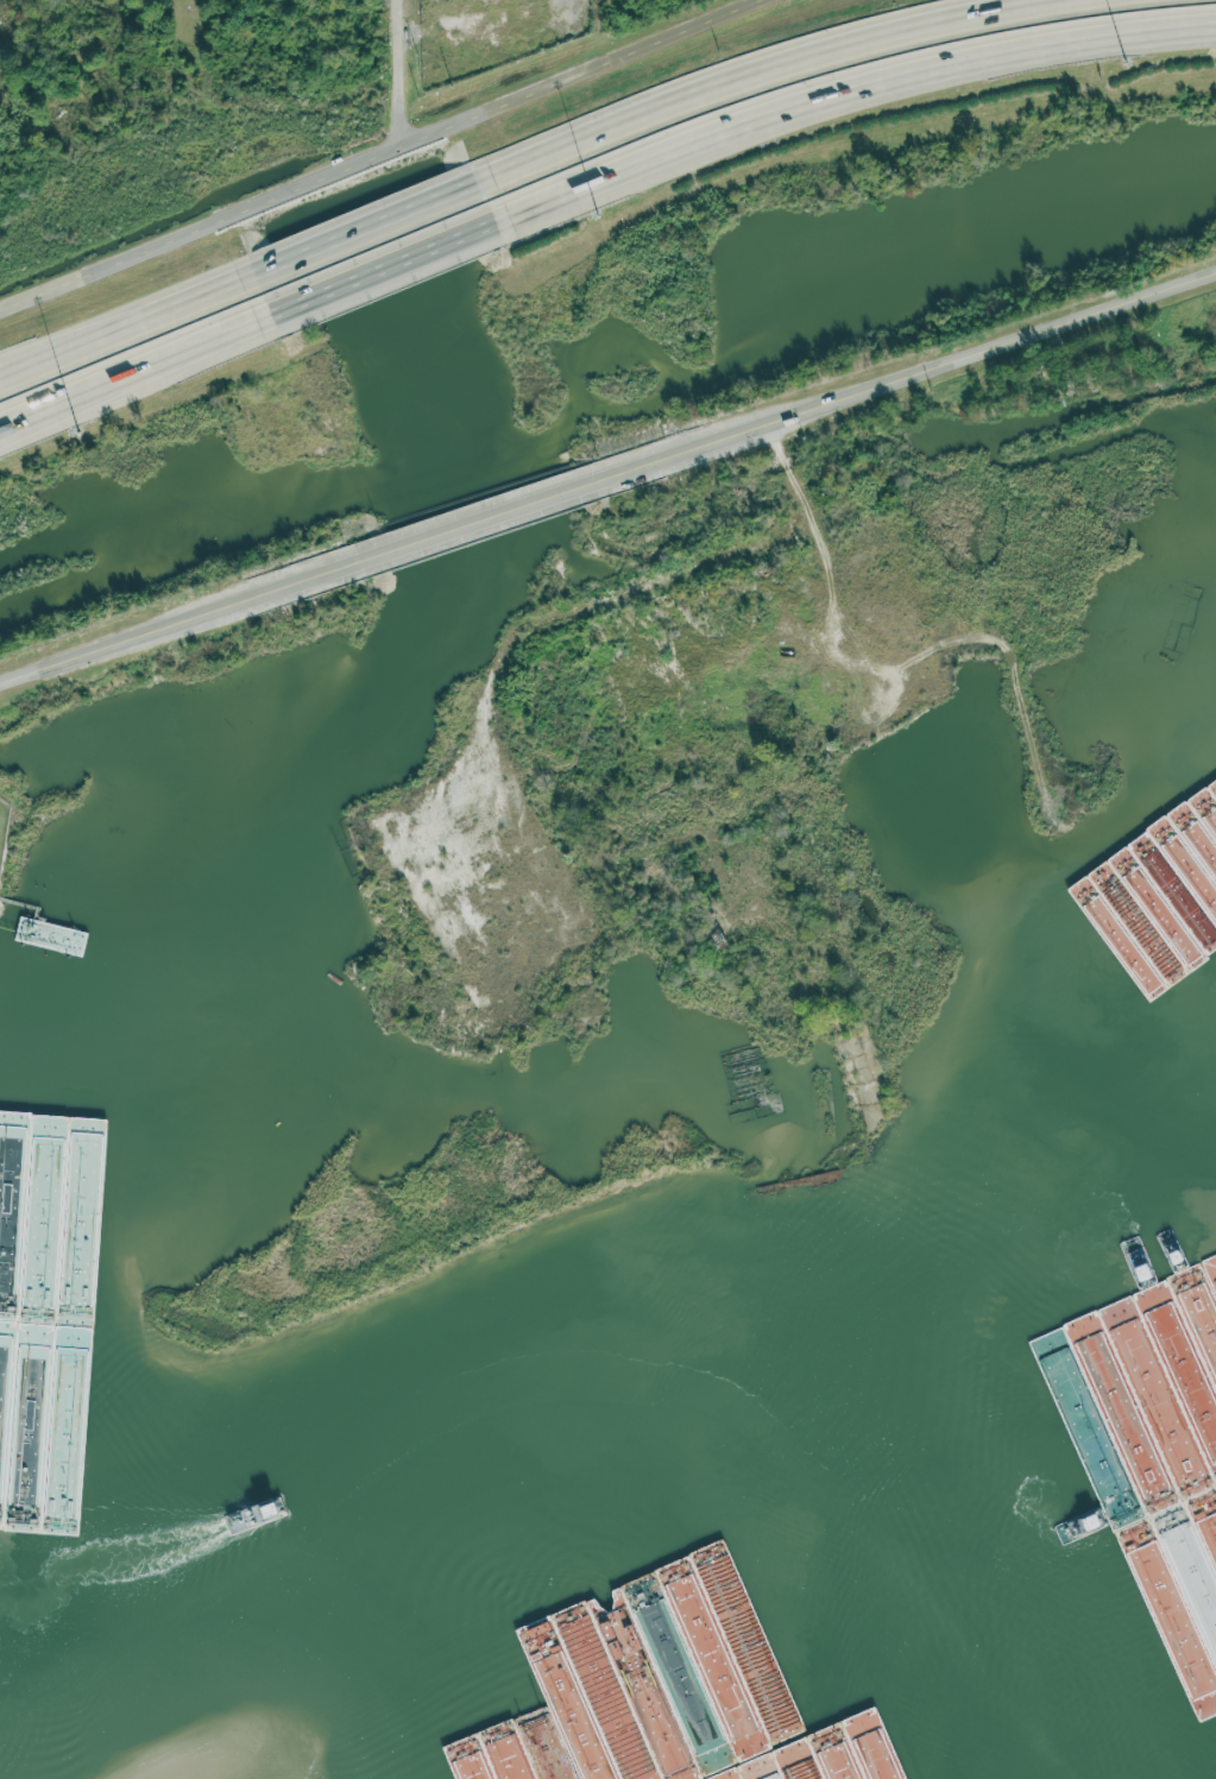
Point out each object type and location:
road: (743, 70)
road: (404, 74)
road: (845, 90)
road: (388, 156)
road: (365, 226)
road: (379, 267)
road: (190, 298)
road: (63, 341)
road: (63, 351)
road: (133, 366)
road: (918, 376)
road: (39, 410)
road: (815, 475)
road: (504, 515)
building: (861, 530)
road: (195, 619)
building: (1180, 622)
road: (530, 832)

